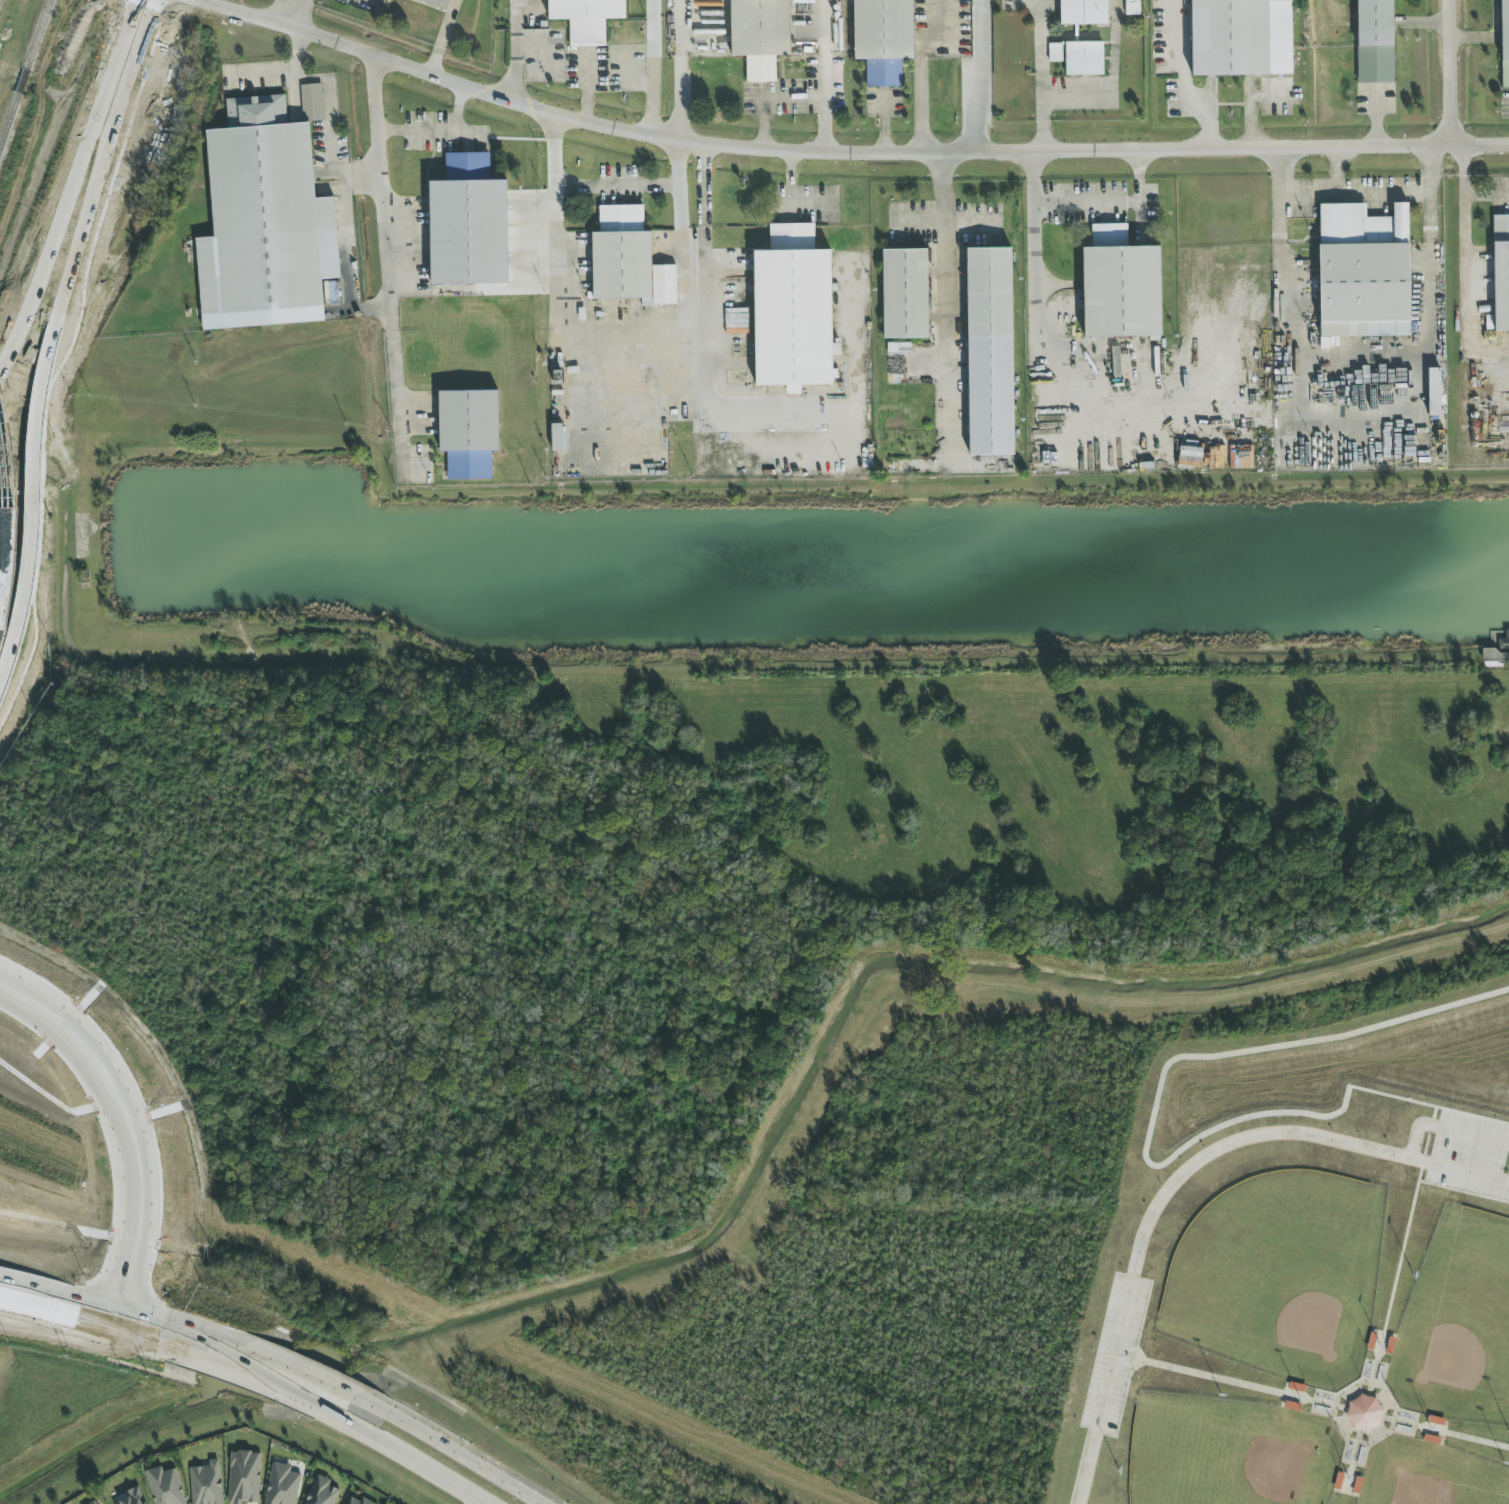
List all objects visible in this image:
building: (436, 3)
building: (1132, 7)
building: (1083, 12)
road: (292, 15)
building: (586, 18)
road: (653, 24)
road: (823, 26)
building: (760, 35)
building: (1240, 37)
road: (442, 39)
building: (883, 39)
building: (1374, 41)
building: (1504, 43)
road: (514, 52)
building: (1055, 53)
building: (1083, 59)
road: (584, 62)
road: (682, 70)
road: (920, 70)
railway: (24, 71)
road: (1443, 72)
road: (1041, 76)
road: (980, 77)
road: (652, 92)
road: (587, 93)
road: (767, 97)
road: (1075, 97)
building: (312, 102)
road: (505, 103)
road: (825, 103)
road: (332, 114)
road: (374, 121)
road: (884, 123)
road: (433, 132)
road: (1167, 150)
road: (620, 184)
road: (72, 186)
road: (1109, 203)
building: (264, 222)
building: (468, 224)
road: (711, 255)
building: (628, 260)
road: (536, 263)
road: (1465, 264)
building: (1363, 271)
building: (1501, 272)
building: (1120, 286)
building: (905, 294)
road: (1036, 294)
road: (943, 308)
building: (792, 310)
road: (397, 327)
road: (52, 338)
road: (681, 346)
building: (989, 352)
road: (1365, 357)
building: (1433, 392)
road: (1361, 410)
building: (468, 432)
building: (557, 437)
road: (9, 517)
building: (23, 592)
building: (1497, 653)
river: (1362, 949)
road: (138, 1123)
road: (1448, 1130)
road: (119, 1137)
road: (1148, 1138)
road: (1178, 1175)
road: (1463, 1191)
road: (1406, 1228)
river: (666, 1262)
park: (1309, 1271)
traffic signals: (108, 1272)
road: (36, 1285)
road: (96, 1303)
road: (33, 1307)
traffic signals: (74, 1318)
road: (152, 1319)
traffic signals: (155, 1320)
road: (119, 1331)
road: (261, 1354)
road: (247, 1374)
building: (1363, 1413)
road: (439, 1444)
park: (1223, 1450)
road: (404, 1455)
building: (244, 1477)
building: (206, 1484)
building: (281, 1485)
building: (165, 1486)
building: (321, 1492)
building: (132, 1497)
building: (356, 1501)
building: (94, 1502)

